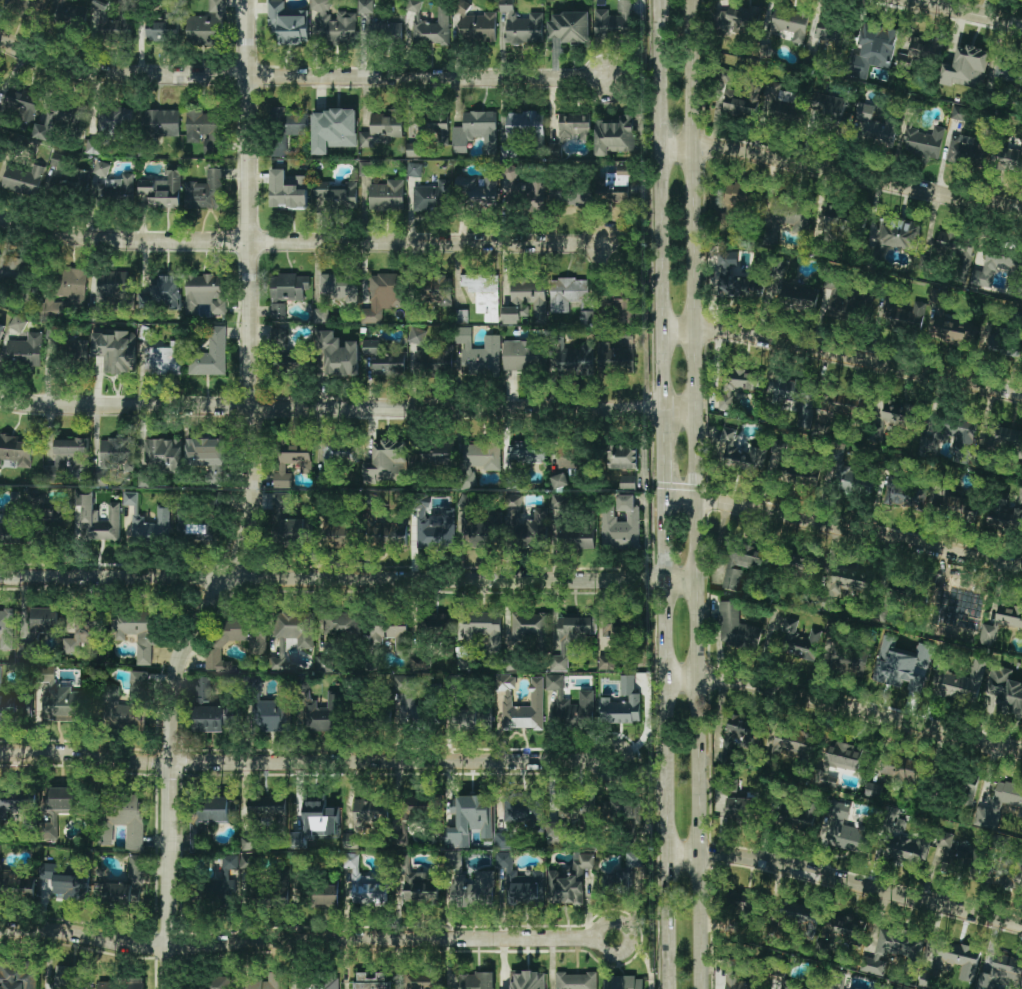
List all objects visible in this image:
building: (365, 6)
building: (69, 11)
road: (969, 11)
building: (741, 16)
building: (113, 20)
building: (614, 23)
building: (288, 24)
building: (333, 24)
building: (428, 25)
building: (207, 26)
building: (476, 26)
building: (522, 26)
building: (569, 27)
building: (833, 30)
building: (385, 31)
building: (162, 32)
building: (913, 55)
building: (967, 68)
road: (300, 77)
building: (743, 101)
building: (21, 102)
building: (785, 103)
building: (832, 105)
building: (114, 118)
building: (292, 122)
building: (161, 123)
building: (524, 125)
building: (877, 125)
building: (202, 127)
building: (383, 128)
building: (572, 128)
building: (334, 130)
building: (477, 132)
building: (615, 135)
building: (925, 142)
building: (278, 147)
building: (965, 150)
building: (101, 168)
building: (414, 170)
road: (840, 174)
building: (74, 178)
building: (24, 179)
building: (115, 187)
building: (617, 188)
building: (163, 190)
building: (478, 190)
building: (525, 190)
building: (288, 191)
building: (205, 192)
building: (337, 194)
building: (387, 195)
building: (740, 195)
building: (433, 197)
building: (576, 197)
building: (787, 216)
road: (659, 221)
building: (837, 222)
road: (303, 241)
building: (956, 249)
building: (9, 273)
building: (726, 275)
building: (984, 277)
building: (73, 284)
building: (114, 287)
building: (339, 287)
building: (164, 292)
building: (287, 292)
building: (205, 293)
building: (484, 293)
building: (567, 293)
building: (384, 295)
building: (799, 296)
building: (938, 296)
building: (530, 297)
building: (620, 303)
building: (841, 307)
building: (64, 309)
building: (321, 315)
building: (510, 315)
building: (904, 315)
building: (587, 317)
building: (1, 330)
building: (953, 330)
building: (417, 336)
building: (995, 343)
building: (53, 345)
building: (25, 350)
building: (116, 351)
building: (605, 351)
building: (480, 353)
building: (77, 354)
building: (209, 354)
building: (339, 355)
building: (522, 355)
road: (841, 356)
building: (434, 359)
building: (164, 360)
building: (384, 360)
building: (574, 360)
building: (741, 379)
building: (796, 397)
building: (726, 401)
building: (844, 406)
road: (346, 408)
building: (897, 413)
building: (961, 435)
building: (1003, 436)
building: (16, 449)
building: (115, 450)
building: (526, 451)
building: (339, 452)
building: (740, 452)
building: (167, 454)
building: (434, 454)
building: (622, 456)
building: (569, 457)
building: (68, 460)
building: (478, 460)
building: (387, 461)
building: (280, 467)
building: (792, 469)
road: (662, 470)
building: (559, 480)
building: (627, 482)
road: (694, 494)
building: (905, 494)
building: (130, 497)
building: (466, 499)
building: (559, 501)
road: (253, 503)
building: (1006, 514)
building: (54, 517)
building: (100, 520)
building: (620, 523)
building: (153, 527)
building: (435, 527)
building: (536, 527)
building: (195, 528)
road: (842, 528)
building: (291, 529)
building: (484, 529)
building: (338, 531)
building: (389, 532)
building: (576, 540)
building: (740, 564)
building: (801, 565)
road: (347, 578)
building: (846, 580)
building: (965, 604)
building: (43, 619)
building: (1001, 622)
building: (342, 625)
building: (435, 625)
building: (529, 625)
building: (295, 627)
building: (736, 628)
building: (6, 629)
building: (136, 631)
building: (613, 632)
building: (246, 633)
building: (80, 636)
building: (392, 636)
building: (569, 638)
building: (797, 640)
building: (280, 654)
building: (848, 659)
building: (606, 662)
building: (902, 663)
building: (46, 672)
building: (139, 682)
building: (963, 684)
building: (1005, 691)
building: (505, 697)
building: (569, 702)
building: (621, 703)
road: (844, 704)
building: (16, 706)
building: (65, 706)
building: (408, 710)
building: (123, 711)
building: (322, 714)
building: (271, 715)
building: (465, 719)
building: (740, 734)
building: (793, 742)
road: (664, 743)
building: (842, 756)
road: (306, 762)
building: (900, 768)
building: (873, 789)
building: (999, 804)
building: (62, 805)
building: (266, 808)
building: (576, 809)
building: (741, 809)
building: (625, 811)
building: (370, 812)
building: (796, 816)
building: (206, 817)
building: (519, 817)
building: (128, 819)
building: (469, 820)
building: (845, 828)
building: (555, 829)
building: (556, 841)
building: (904, 848)
building: (503, 860)
building: (955, 862)
building: (241, 869)
building: (1007, 873)
building: (624, 874)
building: (569, 880)
road: (844, 882)
building: (16, 884)
building: (64, 884)
building: (365, 884)
building: (471, 886)
building: (122, 887)
building: (420, 887)
building: (525, 888)
building: (220, 889)
building: (277, 894)
building: (325, 895)
building: (737, 911)
building: (803, 914)
building: (847, 928)
road: (305, 937)
building: (890, 950)
building: (958, 959)
building: (732, 972)
building: (1002, 974)
building: (16, 976)
building: (67, 978)
building: (476, 980)
building: (527, 980)
building: (370, 981)
building: (572, 981)
building: (271, 982)
building: (623, 982)
building: (219, 983)
building: (121, 984)
building: (317, 984)
building: (814, 984)

